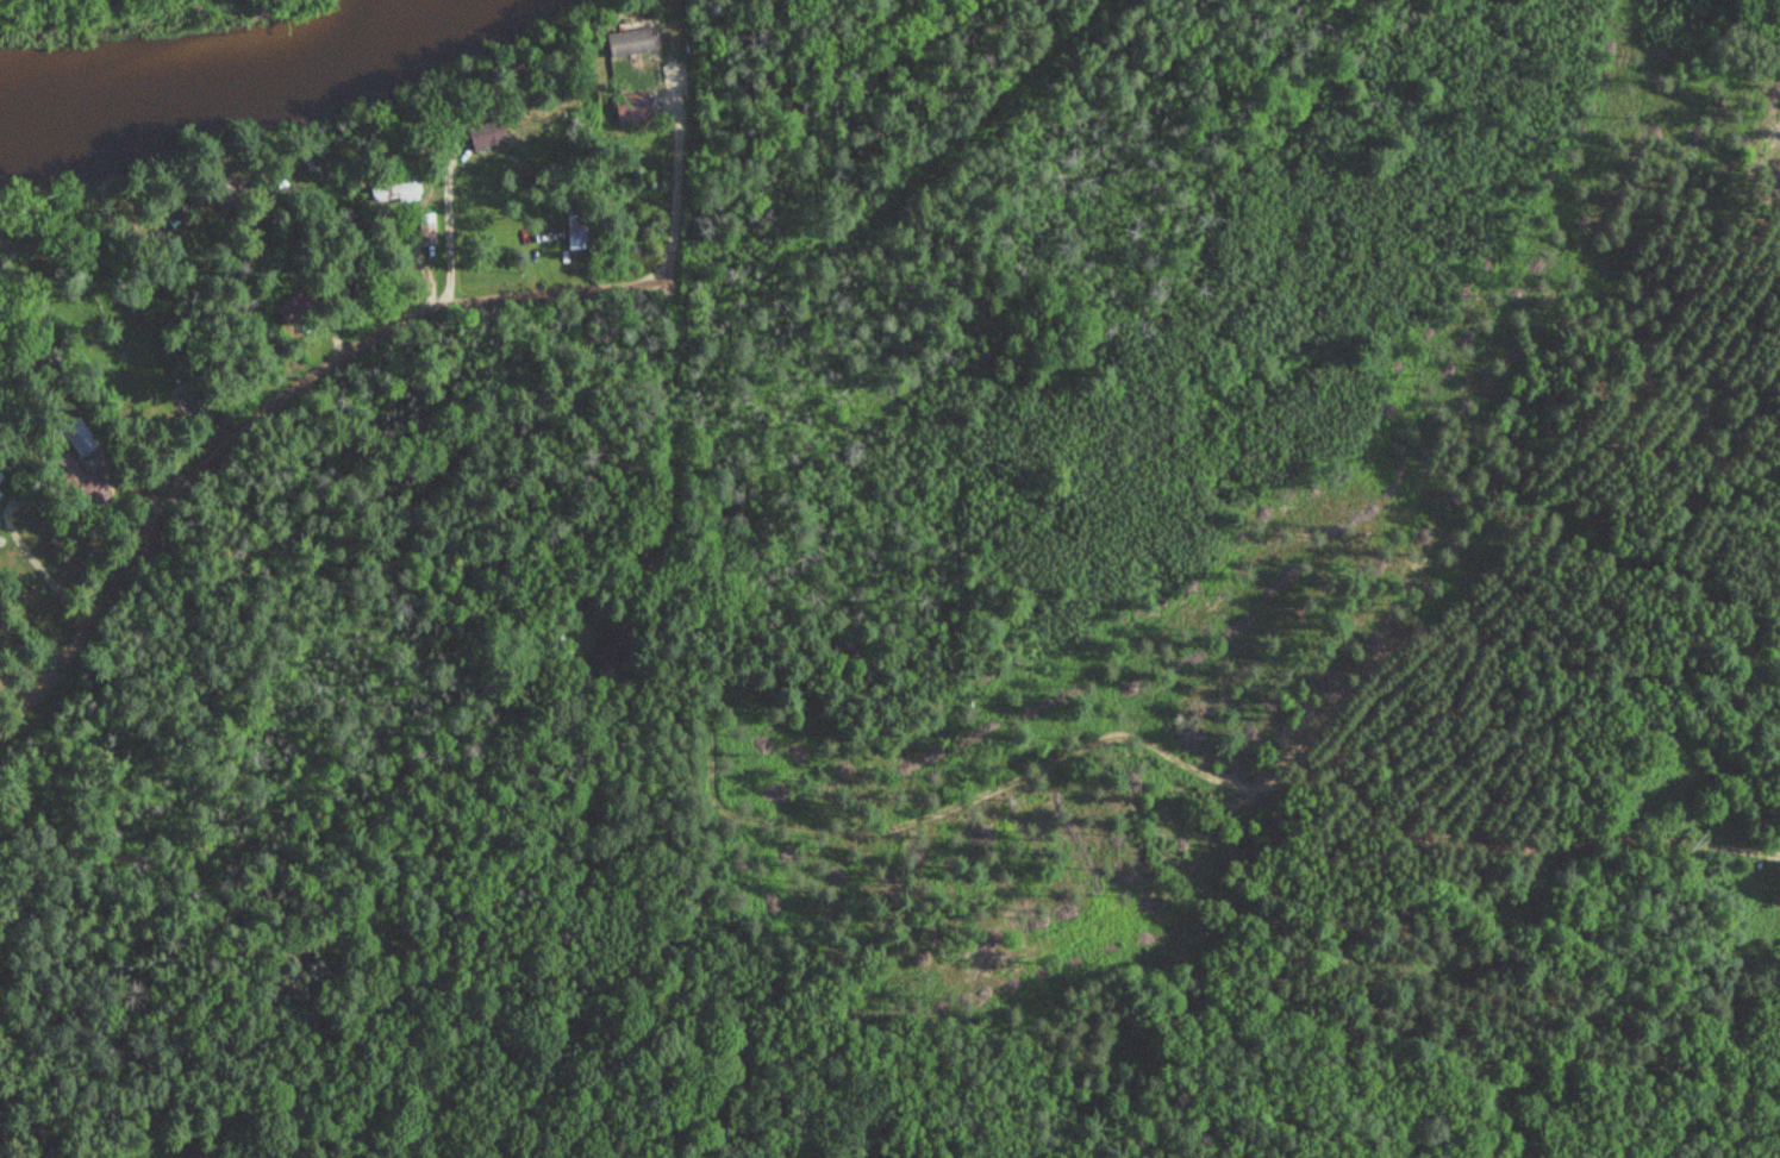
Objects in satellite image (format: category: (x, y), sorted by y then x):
building: (631, 38)
river: (235, 79)
building: (486, 133)
building: (405, 186)
building: (231, 187)
building: (427, 230)
building: (575, 236)
road: (327, 412)
building: (0, 497)

